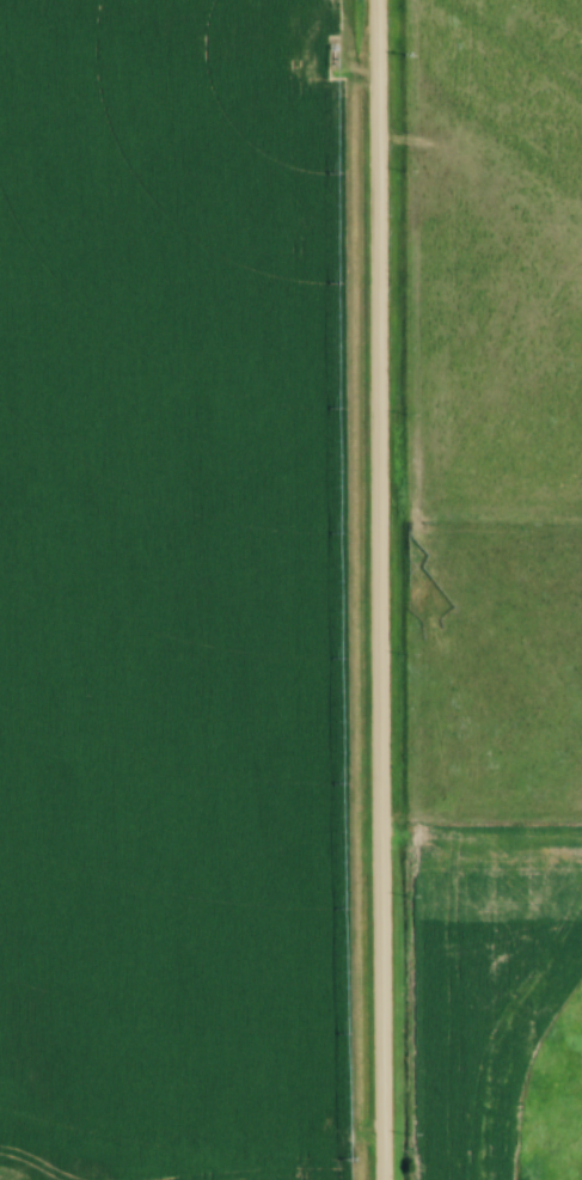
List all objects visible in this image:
road: (373, 589)
road: (185, 1142)

